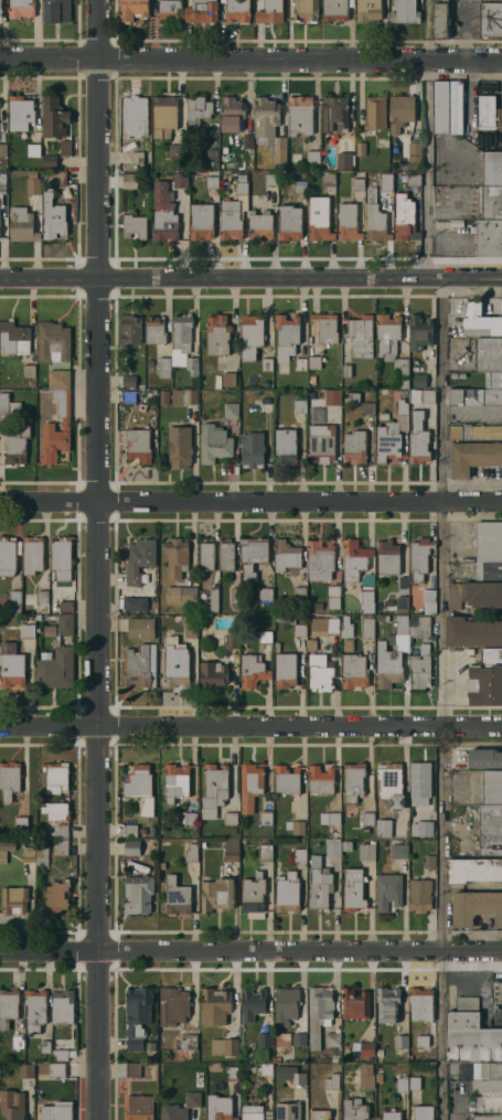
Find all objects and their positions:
building: (20, 8)
building: (0, 9)
building: (132, 9)
building: (335, 9)
building: (55, 10)
building: (170, 10)
building: (237, 10)
building: (305, 10)
building: (367, 10)
building: (201, 11)
building: (268, 11)
building: (404, 12)
building: (490, 19)
building: (439, 20)
road: (250, 61)
building: (447, 107)
building: (19, 111)
building: (399, 111)
building: (374, 113)
building: (488, 113)
building: (137, 114)
building: (232, 114)
building: (196, 115)
building: (299, 115)
building: (333, 115)
building: (52, 116)
building: (163, 116)
building: (268, 126)
road: (429, 139)
building: (247, 141)
building: (65, 148)
building: (2, 149)
building: (33, 149)
building: (360, 149)
building: (414, 150)
building: (175, 151)
building: (211, 154)
building: (312, 156)
building: (136, 157)
building: (295, 158)
building: (2, 161)
building: (49, 161)
building: (344, 161)
building: (491, 169)
building: (58, 177)
building: (242, 177)
building: (327, 178)
building: (413, 179)
building: (129, 180)
building: (180, 180)
building: (269, 180)
building: (385, 181)
building: (211, 182)
building: (356, 184)
building: (33, 185)
building: (2, 186)
building: (299, 186)
building: (491, 202)
building: (163, 212)
building: (233, 212)
building: (52, 216)
building: (374, 217)
building: (404, 217)
building: (319, 218)
building: (201, 221)
building: (289, 222)
building: (346, 222)
building: (21, 224)
building: (260, 224)
building: (133, 225)
building: (3, 236)
building: (489, 237)
road: (250, 282)
building: (479, 320)
building: (324, 328)
building: (129, 329)
building: (154, 330)
building: (419, 330)
building: (216, 334)
building: (250, 335)
building: (286, 335)
building: (360, 335)
building: (386, 335)
building: (13, 338)
building: (52, 342)
building: (183, 344)
building: (488, 354)
building: (313, 361)
building: (266, 364)
building: (300, 364)
building: (163, 366)
building: (28, 371)
building: (345, 371)
building: (400, 373)
building: (452, 375)
building: (461, 375)
building: (228, 377)
building: (58, 378)
building: (311, 378)
building: (492, 380)
building: (128, 381)
building: (419, 381)
building: (128, 396)
building: (178, 396)
building: (427, 396)
building: (474, 396)
building: (332, 397)
building: (351, 397)
building: (8, 405)
building: (299, 406)
building: (366, 408)
building: (229, 409)
building: (47, 426)
building: (473, 431)
building: (392, 435)
building: (417, 438)
building: (213, 442)
building: (320, 442)
building: (138, 445)
building: (14, 446)
building: (285, 446)
building: (179, 447)
building: (354, 447)
building: (252, 449)
building: (473, 457)
road: (250, 503)
road: (442, 503)
building: (489, 542)
building: (33, 554)
building: (227, 555)
building: (253, 555)
building: (286, 555)
building: (7, 556)
building: (177, 556)
building: (207, 556)
building: (62, 557)
building: (387, 557)
building: (139, 558)
building: (419, 558)
road: (96, 559)
building: (354, 559)
building: (320, 561)
building: (489, 570)
building: (404, 583)
building: (299, 593)
building: (182, 594)
building: (482, 594)
building: (266, 595)
building: (453, 595)
building: (43, 596)
building: (234, 596)
building: (333, 596)
building: (213, 599)
building: (366, 599)
building: (428, 599)
building: (15, 600)
building: (136, 604)
building: (402, 604)
building: (66, 606)
building: (39, 616)
building: (380, 617)
building: (285, 618)
building: (65, 623)
building: (28, 625)
building: (190, 625)
building: (324, 626)
building: (367, 626)
building: (419, 626)
building: (346, 627)
building: (141, 628)
building: (50, 630)
building: (300, 630)
building: (472, 631)
building: (265, 637)
building: (233, 641)
building: (312, 643)
building: (348, 644)
building: (277, 647)
building: (415, 650)
building: (393, 654)
building: (11, 664)
building: (140, 666)
building: (177, 666)
building: (421, 668)
building: (57, 669)
building: (253, 670)
building: (286, 670)
building: (320, 671)
building: (354, 672)
building: (214, 673)
building: (485, 679)
road: (250, 727)
building: (485, 757)
building: (56, 777)
building: (9, 779)
building: (287, 779)
building: (321, 779)
building: (420, 779)
building: (177, 781)
building: (353, 781)
building: (392, 783)
building: (250, 786)
building: (493, 787)
building: (141, 788)
building: (214, 789)
building: (55, 810)
building: (188, 818)
building: (231, 818)
building: (266, 818)
building: (333, 818)
building: (367, 818)
building: (21, 822)
building: (298, 824)
building: (384, 828)
building: (365, 829)
building: (425, 829)
building: (491, 829)
building: (130, 830)
building: (142, 830)
building: (62, 831)
building: (194, 831)
building: (233, 831)
building: (45, 838)
building: (383, 842)
building: (346, 845)
building: (62, 846)
building: (132, 847)
building: (6, 849)
building: (333, 849)
building: (232, 850)
building: (399, 851)
building: (266, 852)
building: (366, 852)
building: (191, 853)
building: (28, 854)
building: (300, 854)
building: (42, 855)
building: (316, 860)
building: (430, 862)
building: (162, 865)
building: (473, 870)
building: (320, 888)
building: (353, 888)
building: (388, 890)
building: (287, 892)
building: (138, 894)
building: (217, 894)
building: (420, 895)
building: (57, 896)
building: (177, 896)
building: (253, 896)
building: (14, 899)
building: (476, 907)
road: (442, 922)
road: (250, 956)
building: (252, 1003)
building: (421, 1003)
building: (63, 1004)
building: (177, 1004)
building: (355, 1004)
building: (388, 1004)
building: (215, 1005)
building: (286, 1005)
building: (8, 1006)
building: (35, 1009)
building: (319, 1013)
building: (138, 1015)
building: (470, 1035)
building: (265, 1038)
building: (332, 1038)
building: (282, 1039)
building: (299, 1039)
building: (18, 1041)
building: (423, 1041)
building: (402, 1042)
building: (186, 1045)
building: (45, 1046)
building: (224, 1046)
building: (363, 1048)
building: (380, 1052)
building: (61, 1055)
building: (335, 1057)
building: (277, 1058)
building: (183, 1066)
building: (337, 1066)
building: (57, 1069)
building: (132, 1069)
building: (266, 1069)
building: (26, 1070)
building: (488, 1070)
building: (232, 1073)
building: (290, 1075)
building: (366, 1076)
building: (377, 1077)
building: (196, 1079)
building: (331, 1080)
building: (403, 1082)
building: (415, 1082)
building: (488, 1088)
building: (12, 1105)
building: (489, 1105)
building: (181, 1107)
building: (139, 1108)
building: (220, 1108)
building: (354, 1109)
building: (288, 1111)
building: (53, 1112)
building: (252, 1112)
building: (423, 1112)
building: (319, 1114)
building: (392, 1114)
building: (488, 1117)

